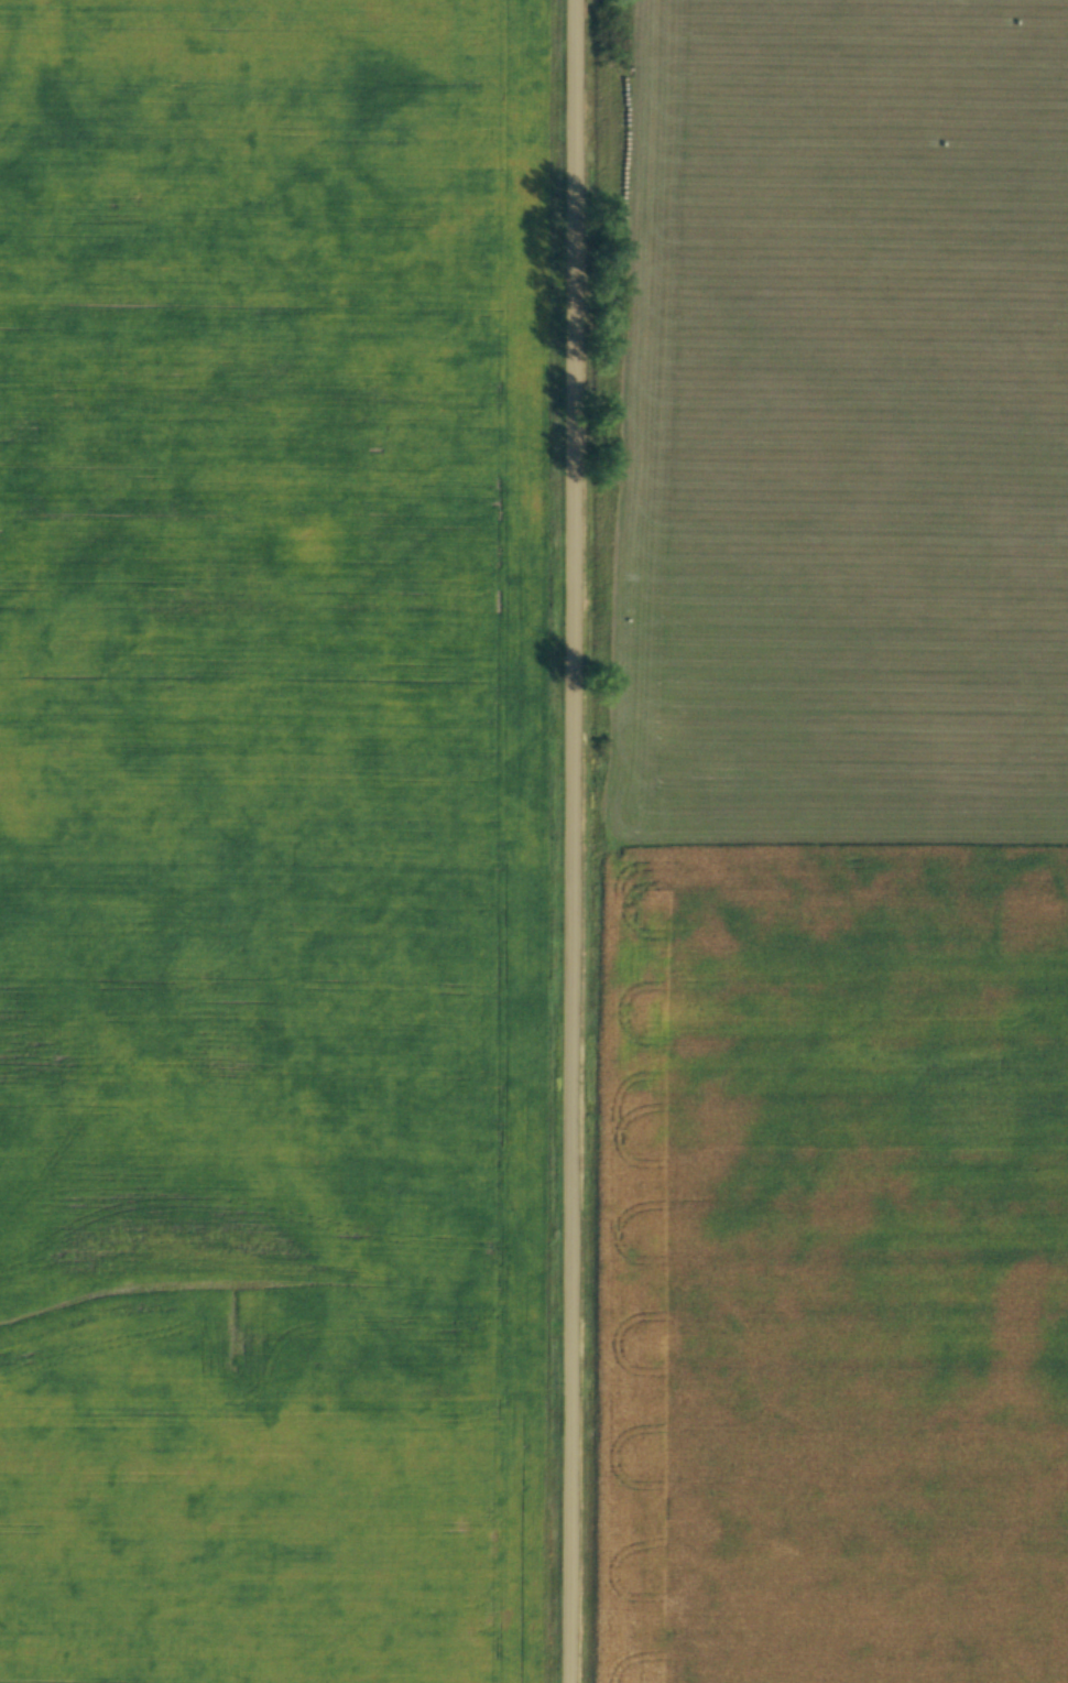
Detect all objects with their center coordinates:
road: (558, 841)

